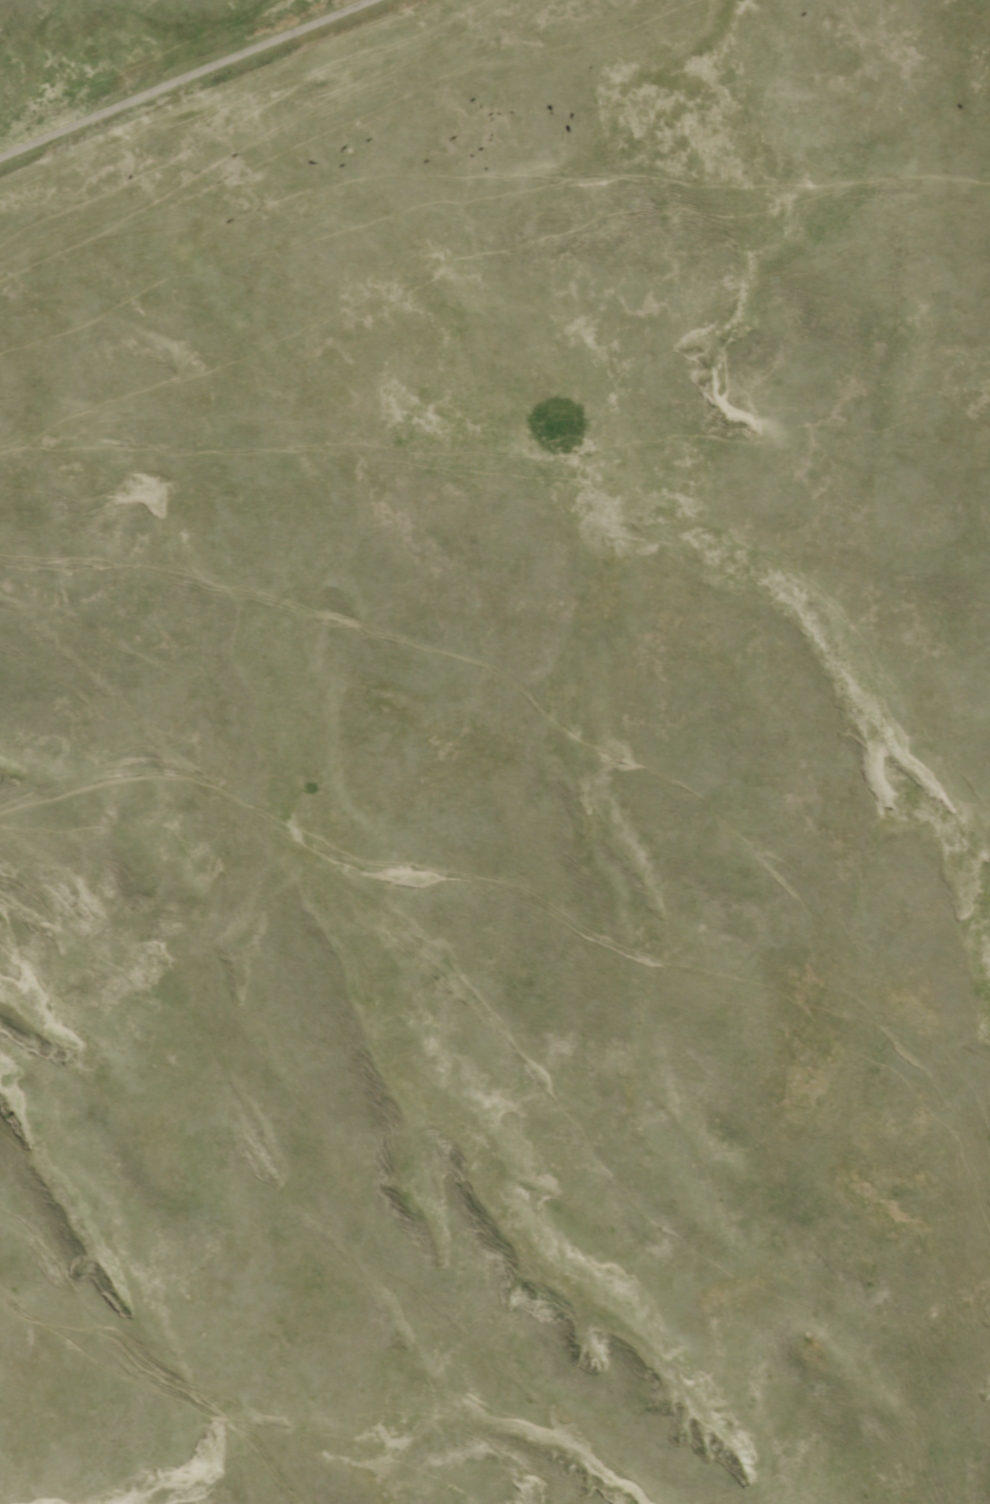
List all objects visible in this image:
road: (186, 78)

